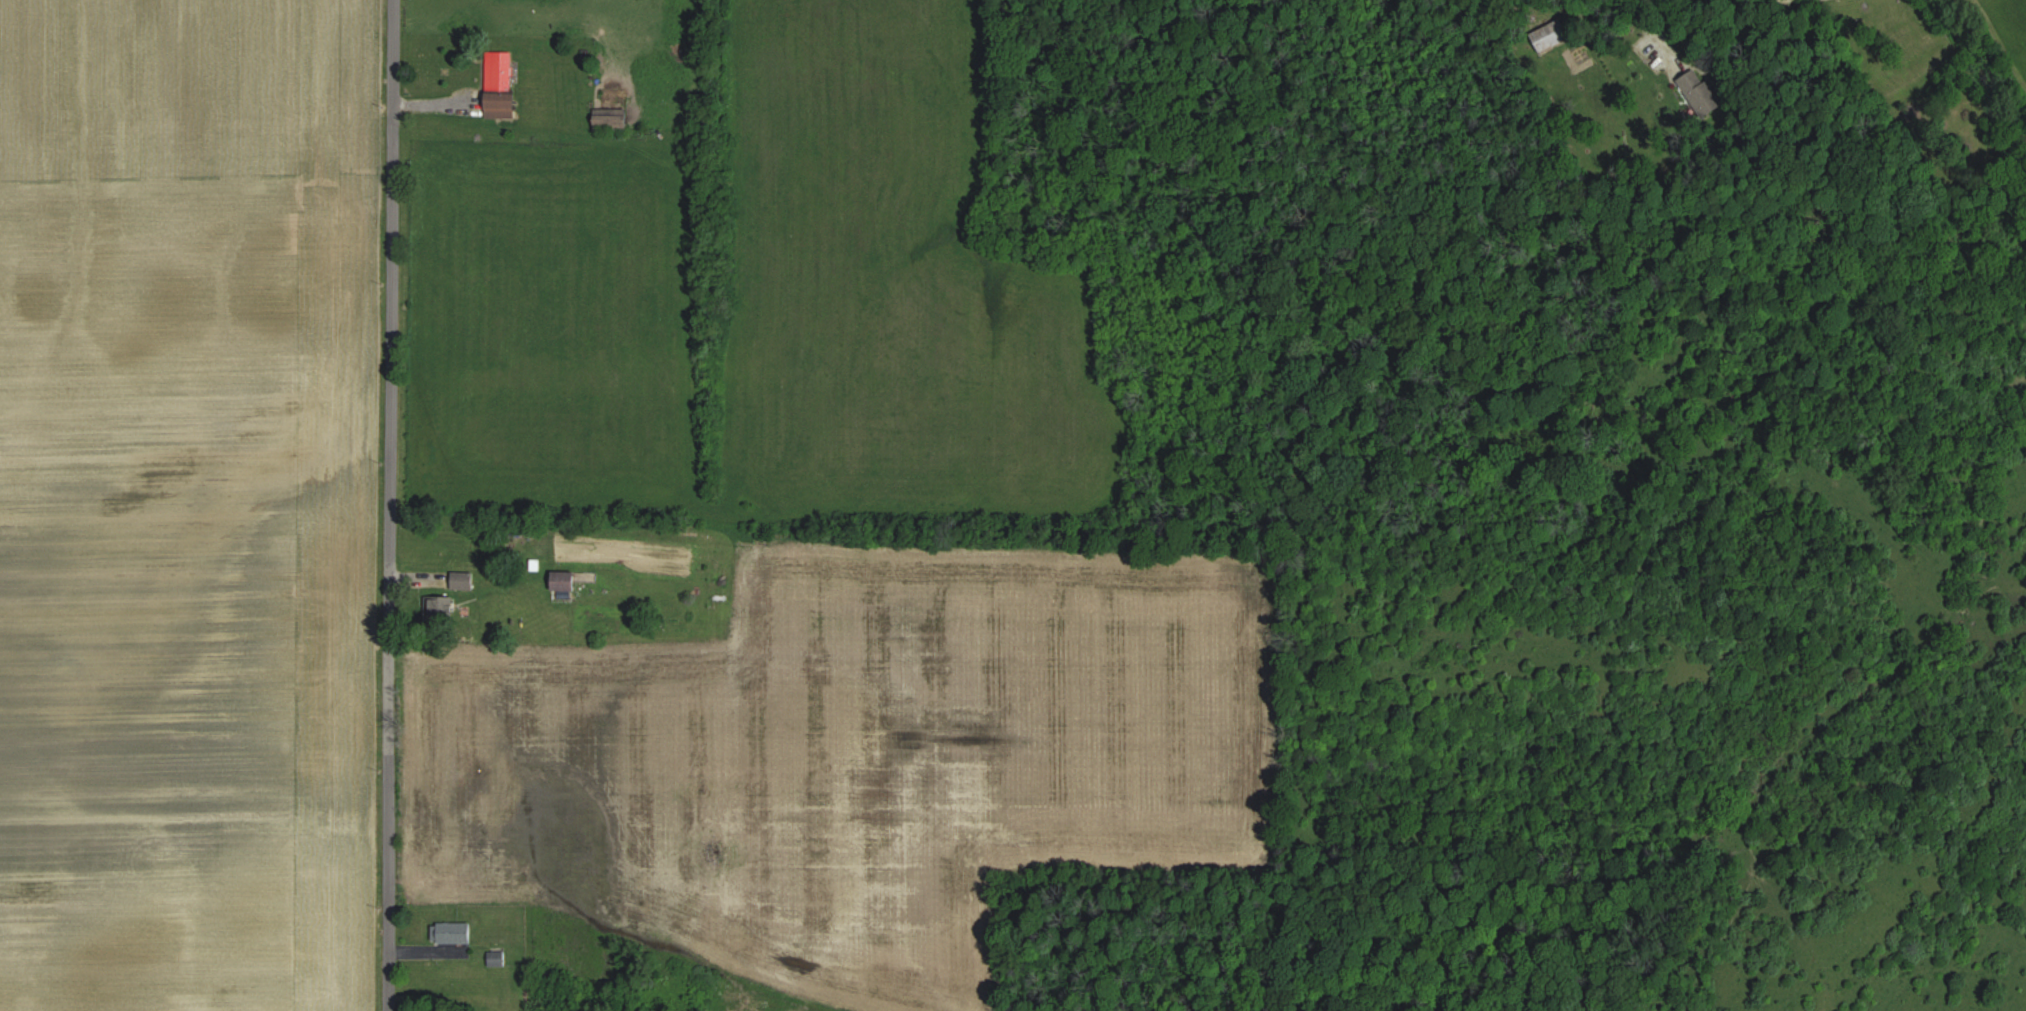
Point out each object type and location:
road: (1651, 16)
building: (1549, 36)
building: (501, 71)
building: (1703, 95)
building: (503, 107)
building: (612, 120)
road: (391, 505)
building: (464, 580)
building: (565, 581)
building: (442, 605)
building: (453, 933)
building: (497, 959)

